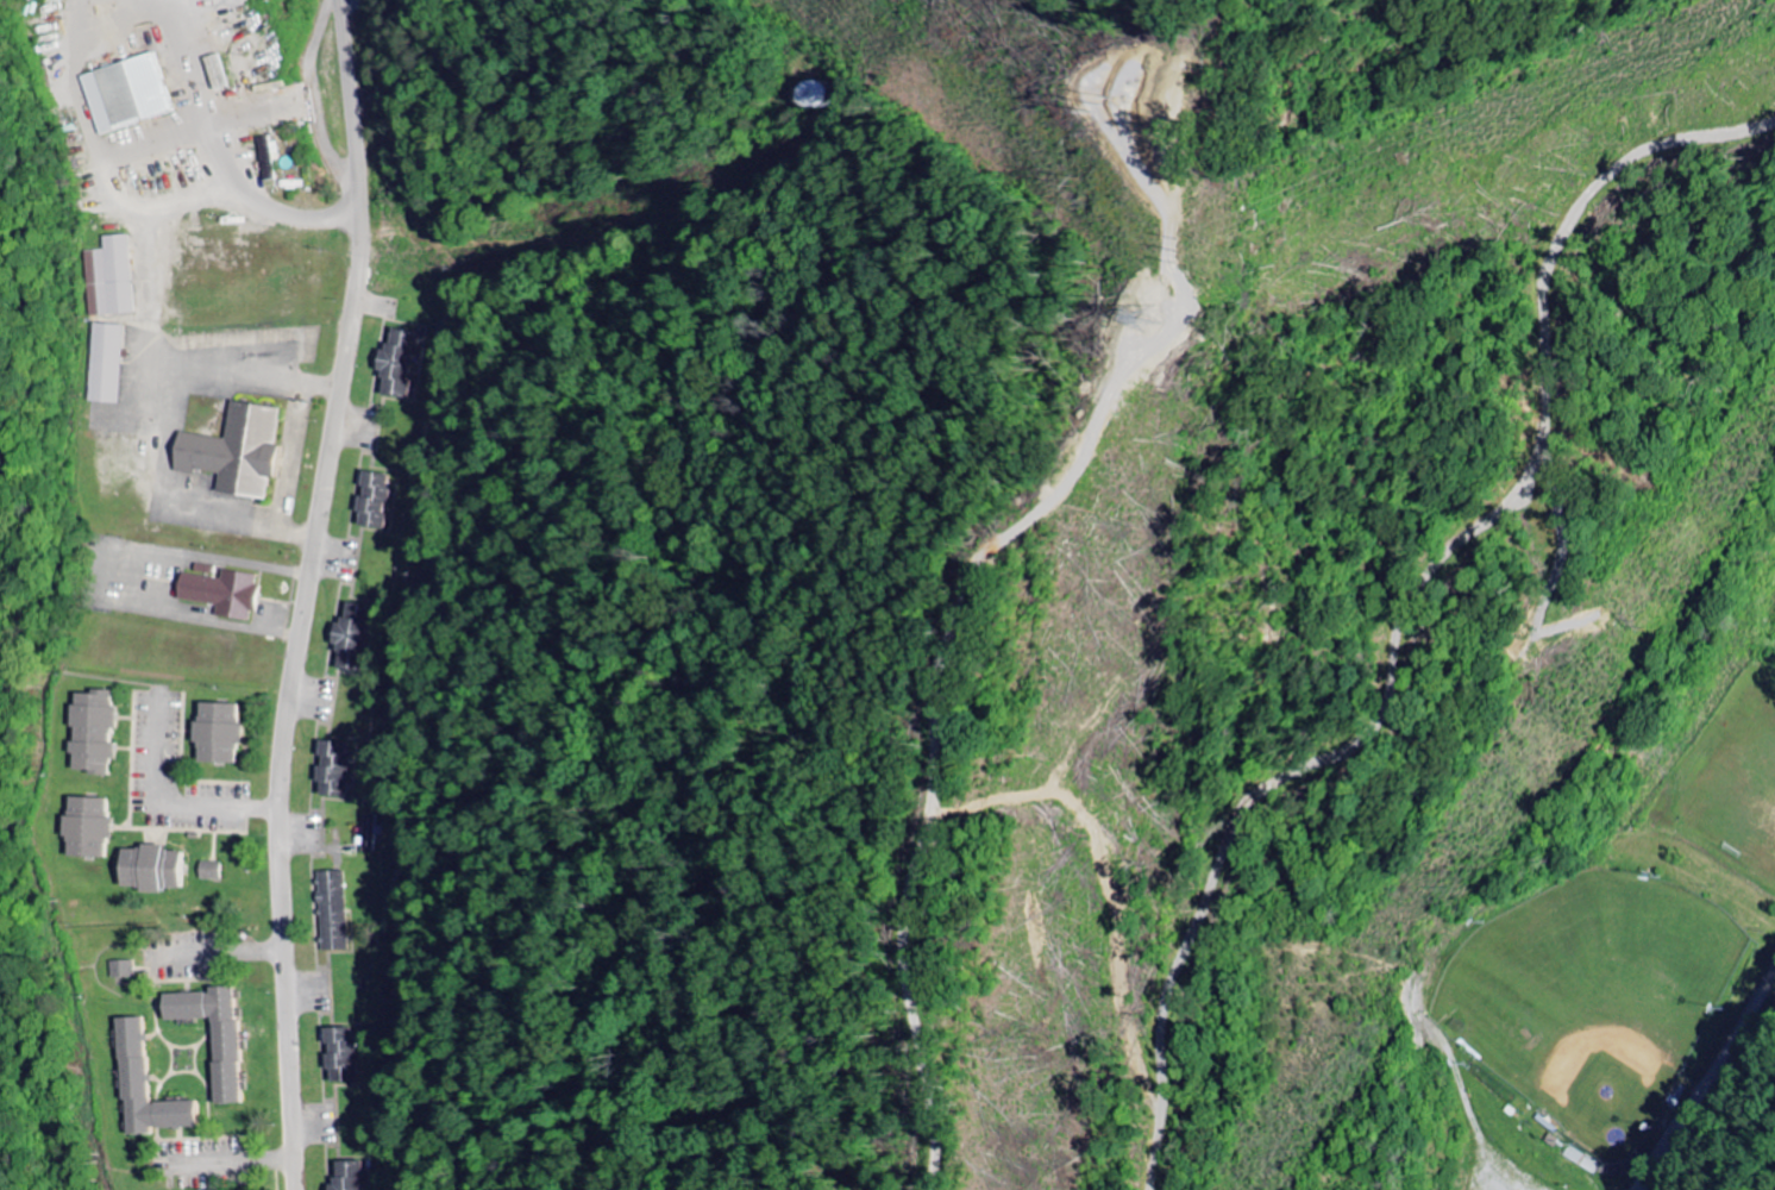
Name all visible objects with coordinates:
building: (125, 95)
building: (818, 95)
power tower: (1180, 230)
building: (108, 278)
building: (105, 364)
building: (394, 364)
building: (233, 452)
building: (374, 501)
road: (302, 593)
building: (220, 594)
building: (351, 639)
building: (89, 733)
building: (214, 735)
building: (332, 770)
building: (371, 834)
building: (148, 870)
building: (211, 871)
building: (330, 912)
building: (120, 971)
building: (211, 1035)
building: (340, 1057)
building: (130, 1060)
road: (1701, 1081)
building: (347, 1177)

